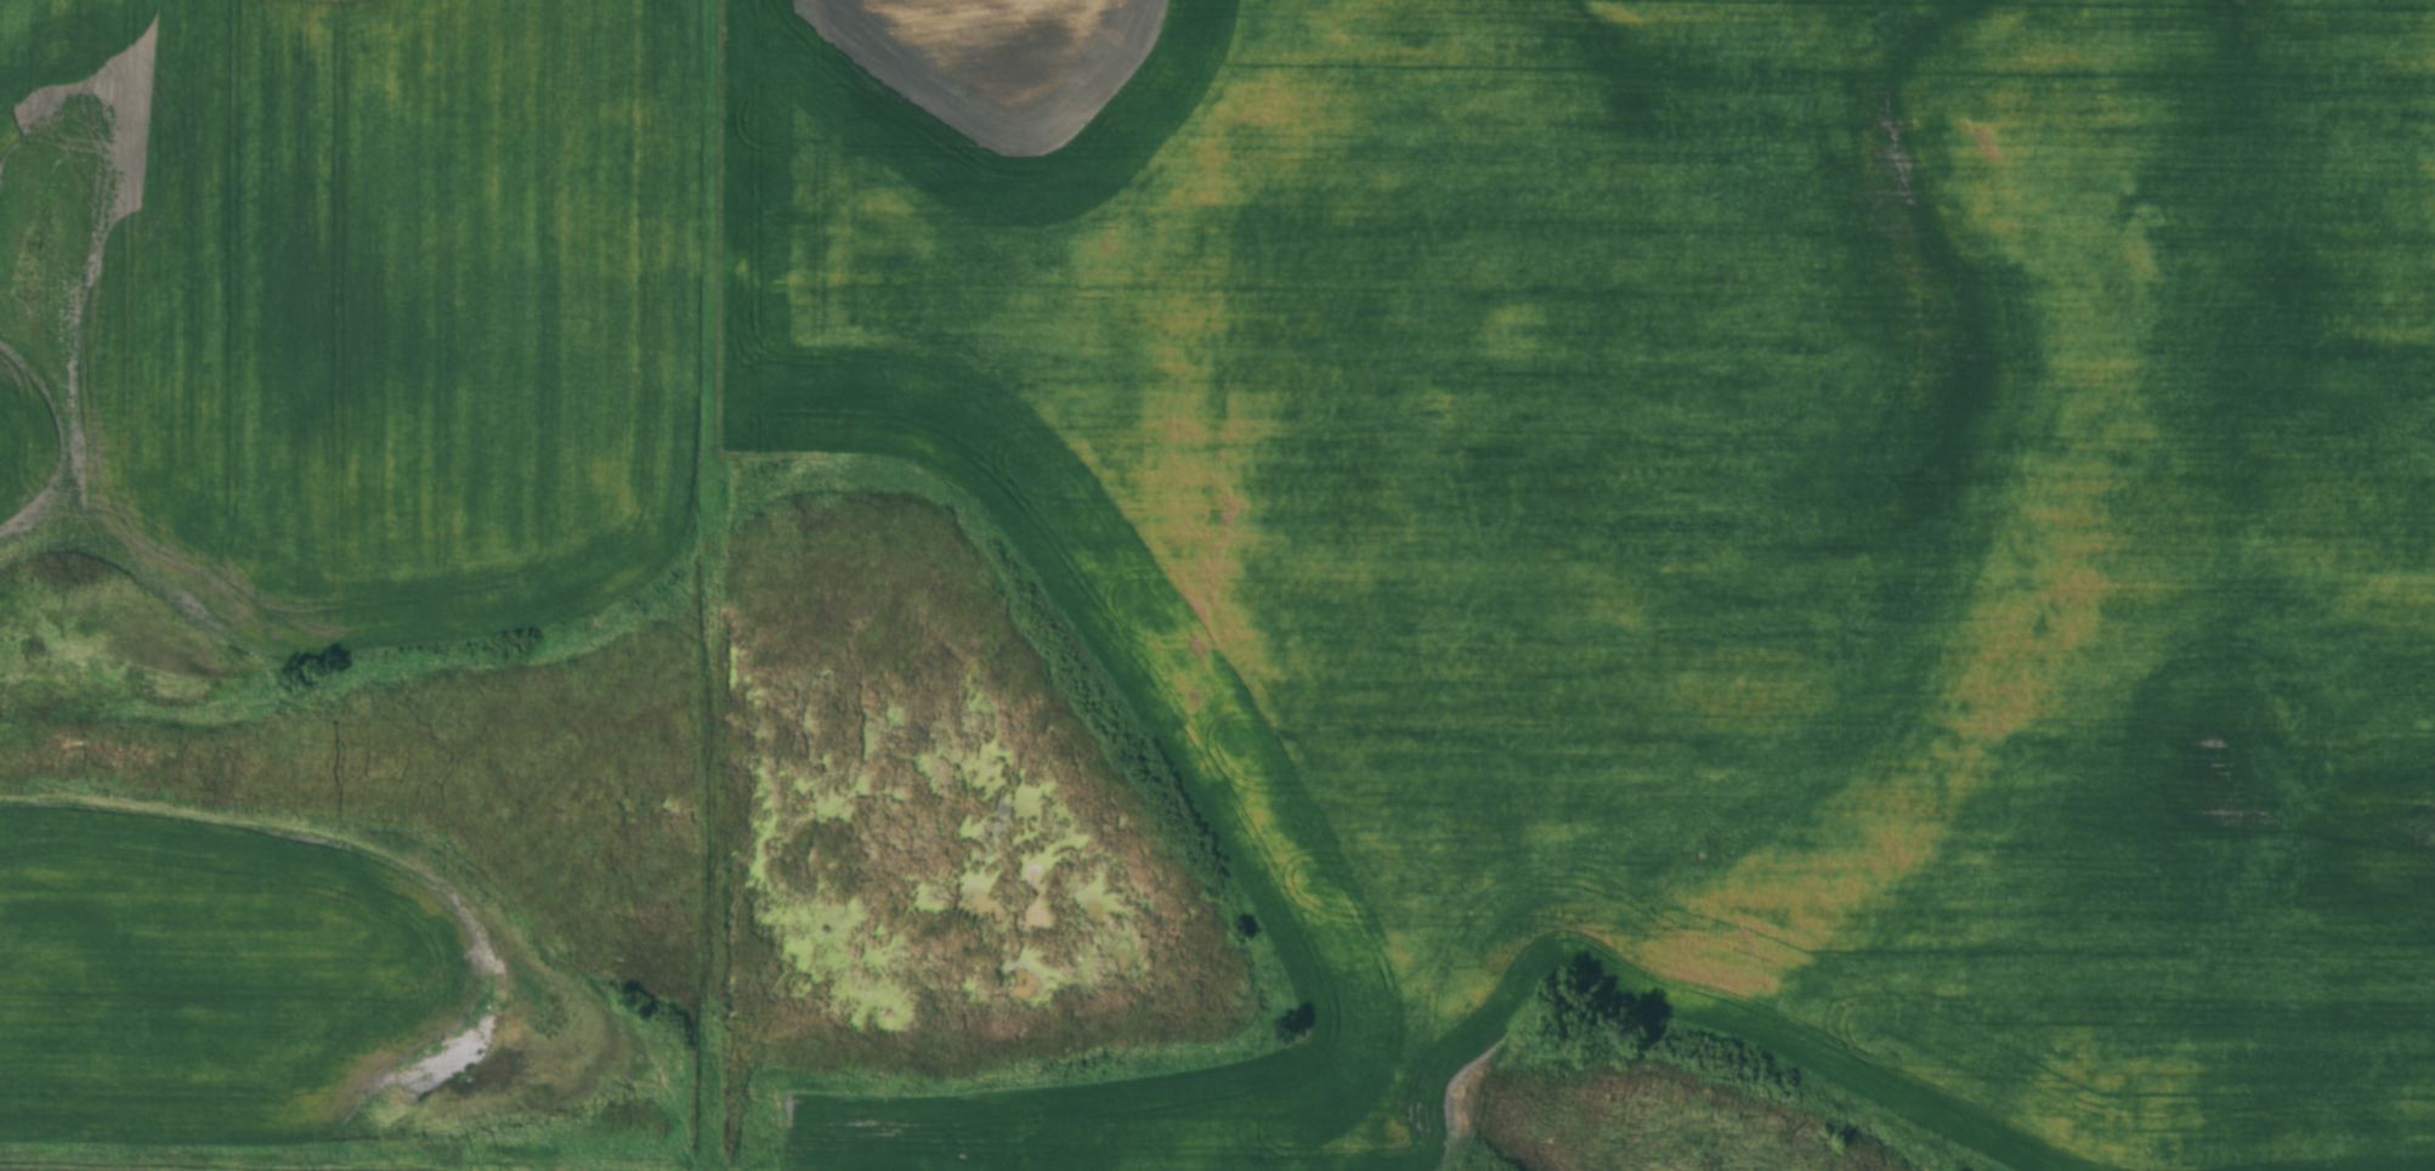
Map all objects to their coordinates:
road: (713, 209)
road: (321, 1164)

